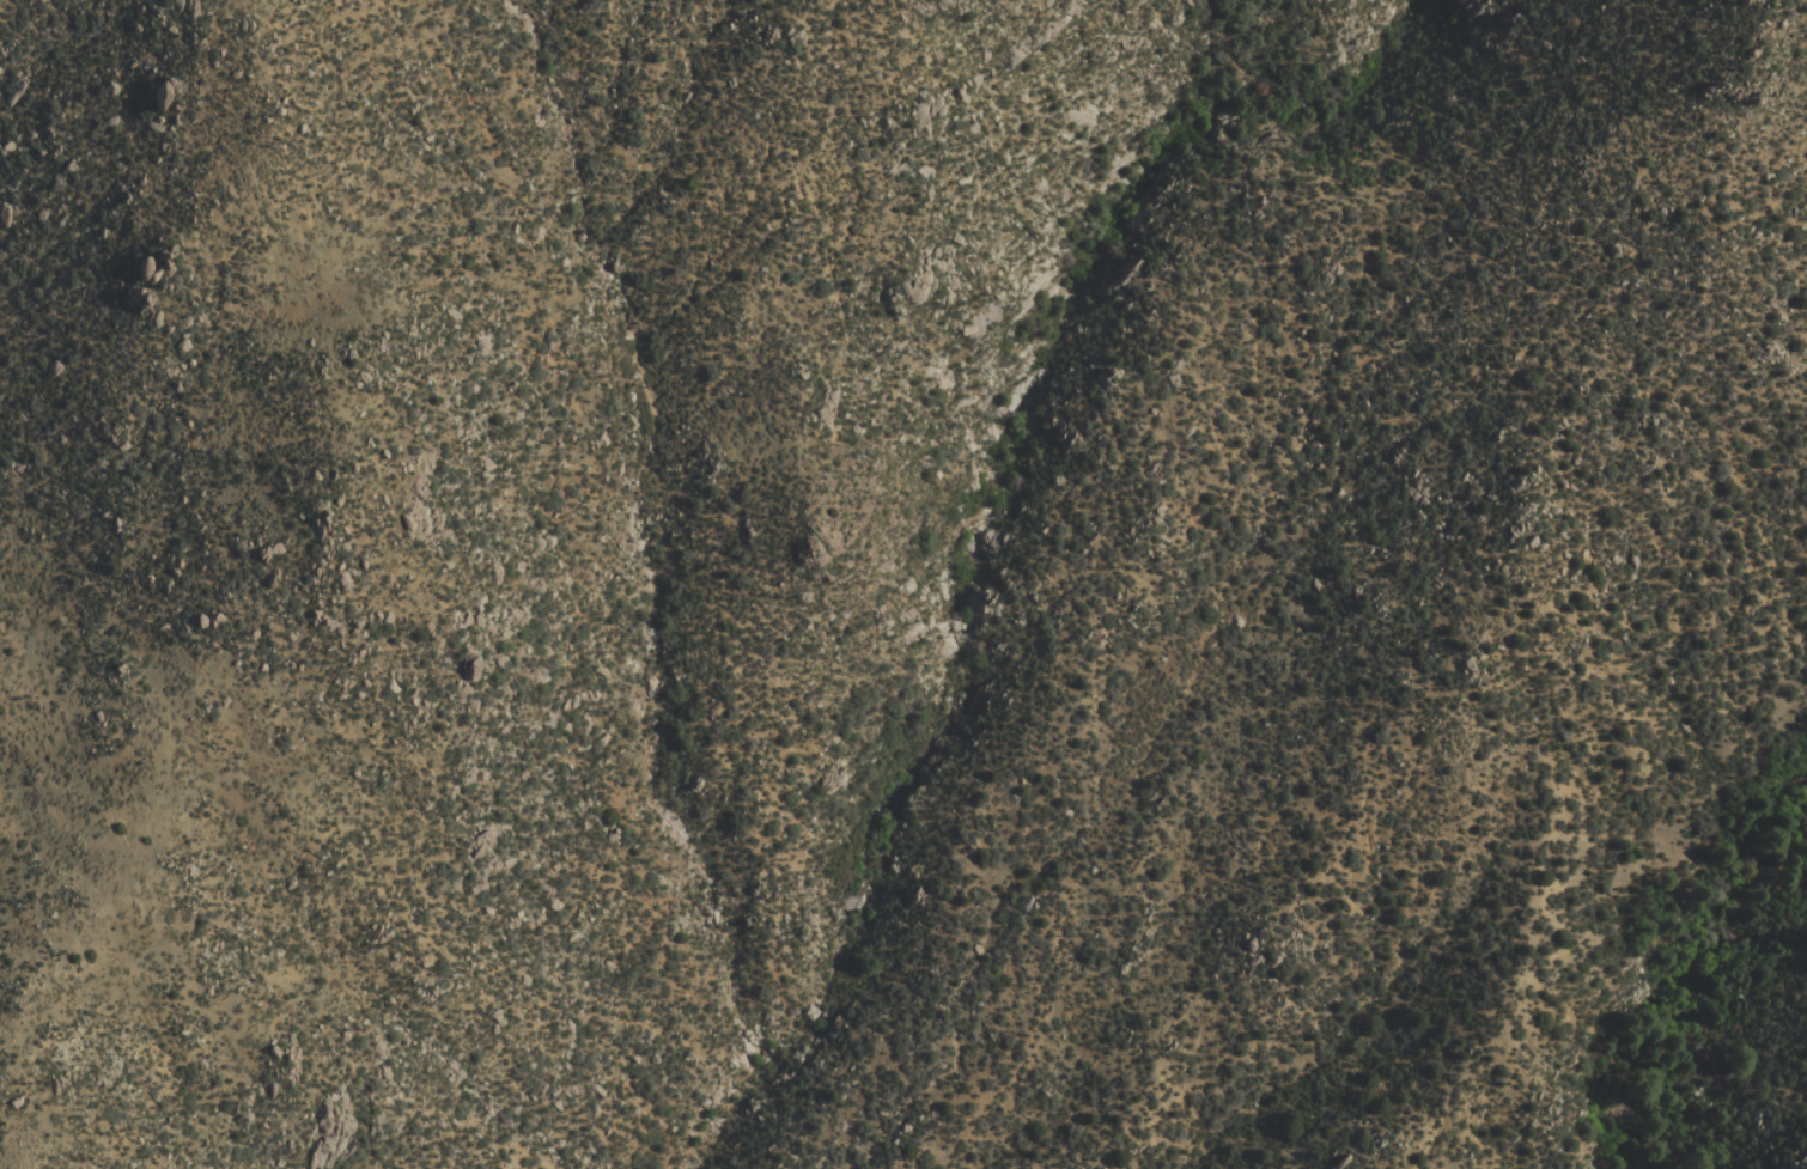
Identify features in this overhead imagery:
road: (1690, 951)

